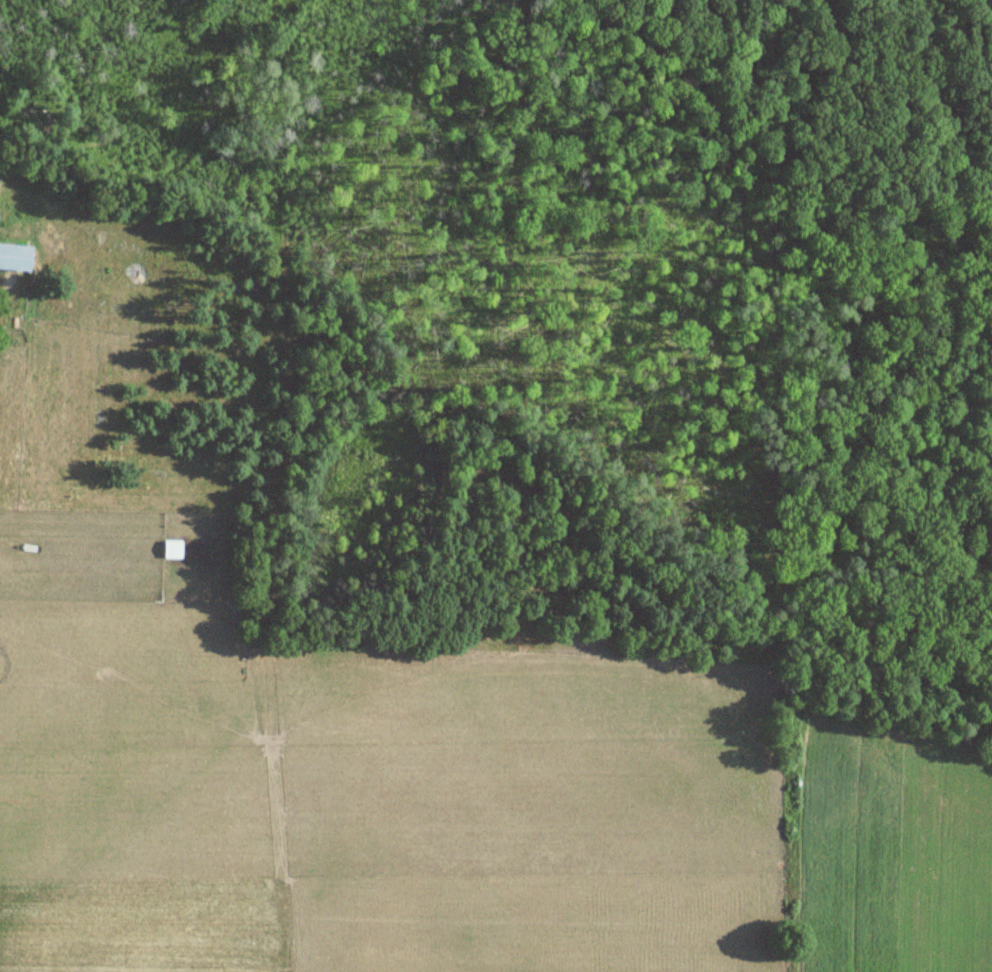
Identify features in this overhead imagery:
building: (158, 375)

